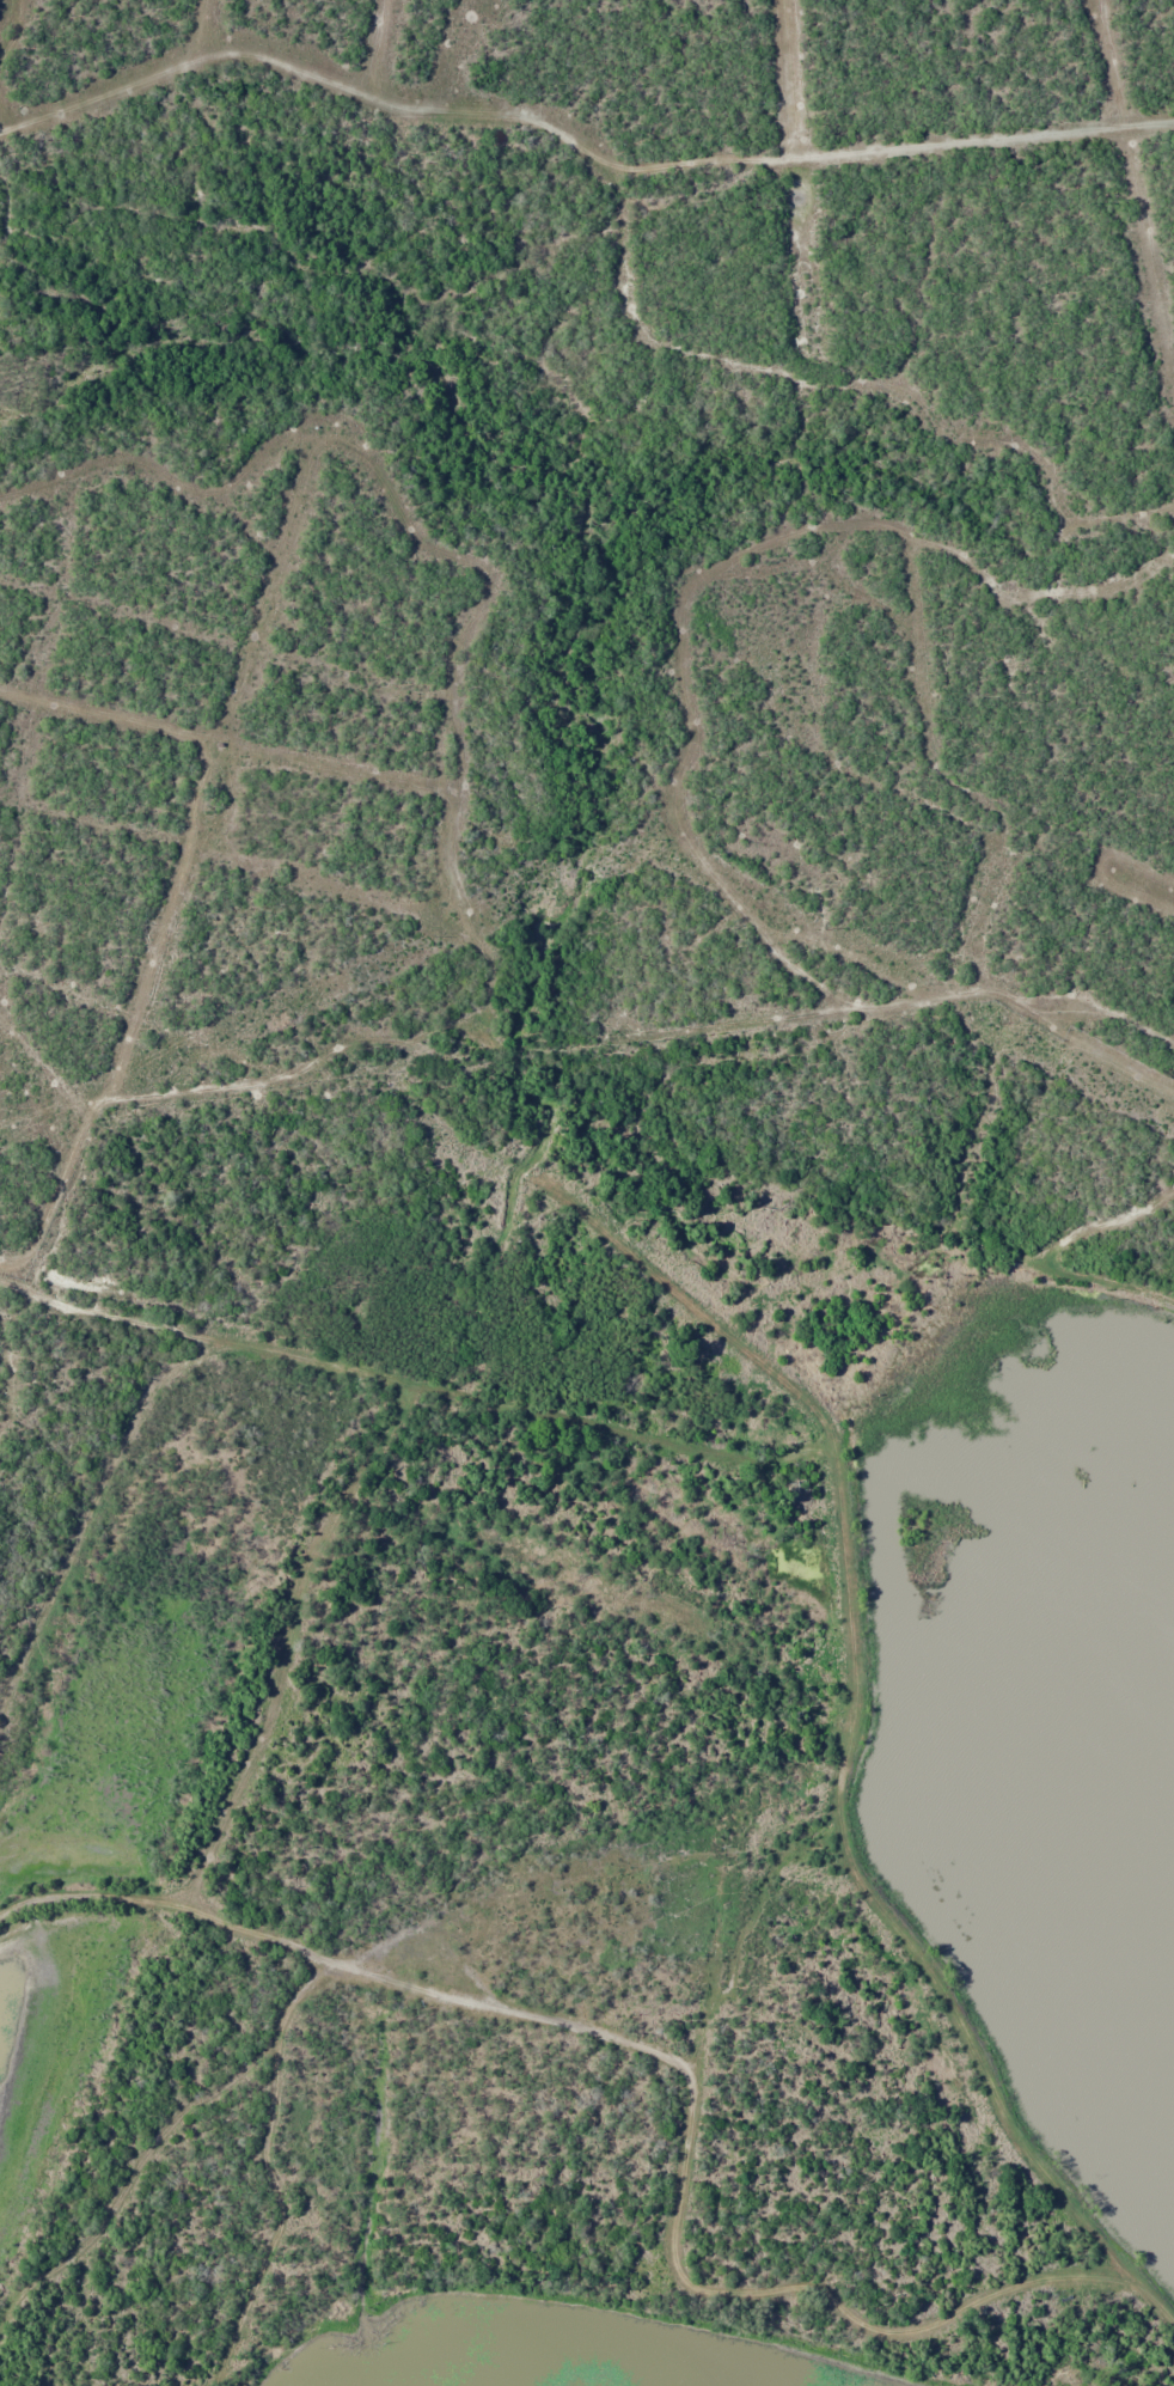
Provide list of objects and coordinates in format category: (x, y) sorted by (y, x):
road: (604, 2046)

